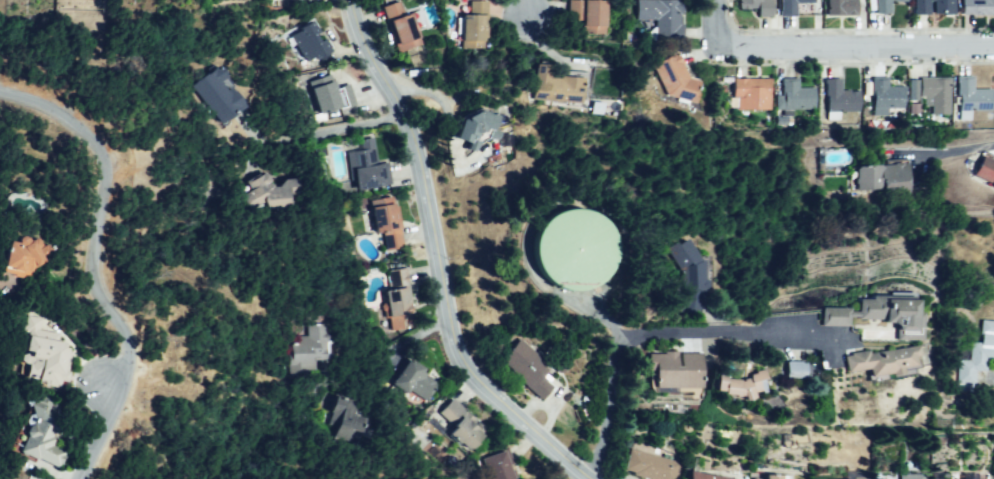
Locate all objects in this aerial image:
building: (755, 6)
building: (977, 6)
building: (785, 7)
building: (880, 7)
building: (918, 7)
building: (943, 7)
building: (839, 8)
road: (529, 11)
building: (661, 16)
building: (590, 18)
road: (716, 21)
building: (398, 27)
building: (471, 27)
building: (304, 43)
road: (855, 44)
building: (673, 79)
building: (554, 83)
building: (930, 92)
building: (751, 93)
building: (208, 94)
building: (796, 95)
building: (883, 95)
building: (969, 95)
building: (324, 96)
building: (839, 98)
building: (470, 122)
road: (331, 129)
road: (944, 148)
building: (363, 167)
building: (984, 171)
building: (881, 176)
building: (269, 193)
building: (381, 224)
building: (565, 250)
building: (20, 255)
road: (439, 259)
building: (680, 261)
road: (91, 264)
building: (396, 276)
building: (390, 308)
building: (877, 315)
road: (655, 330)
building: (307, 345)
building: (39, 352)
building: (974, 353)
building: (871, 361)
building: (526, 368)
building: (670, 369)
building: (788, 370)
building: (409, 378)
building: (738, 379)
building: (345, 419)
building: (456, 425)
building: (41, 430)
building: (490, 467)
building: (645, 467)
building: (769, 475)
building: (699, 476)
building: (910, 476)
building: (858, 477)
building: (878, 478)

